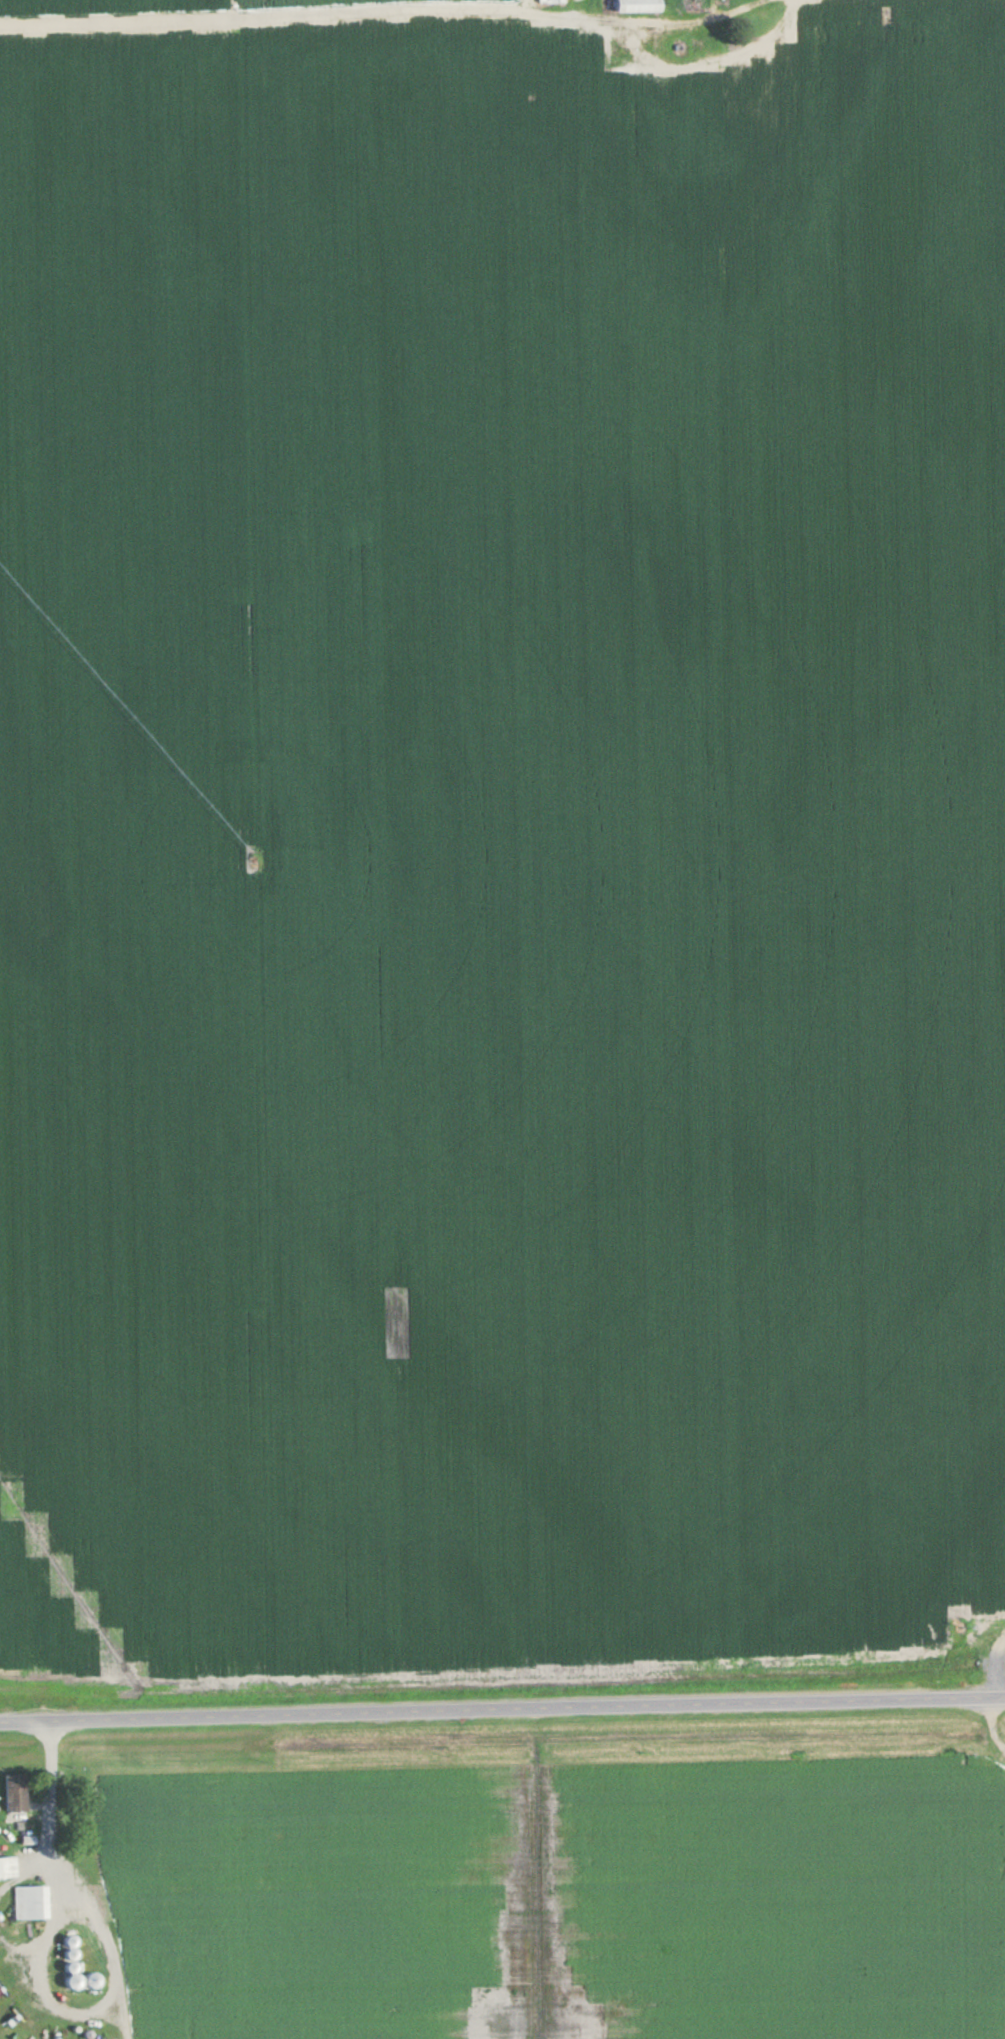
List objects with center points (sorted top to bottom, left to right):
building: (551, 1)
building: (637, 6)
road: (378, 13)
road: (994, 1692)
road: (502, 1704)
building: (15, 1793)
building: (8, 1867)
building: (31, 1902)

